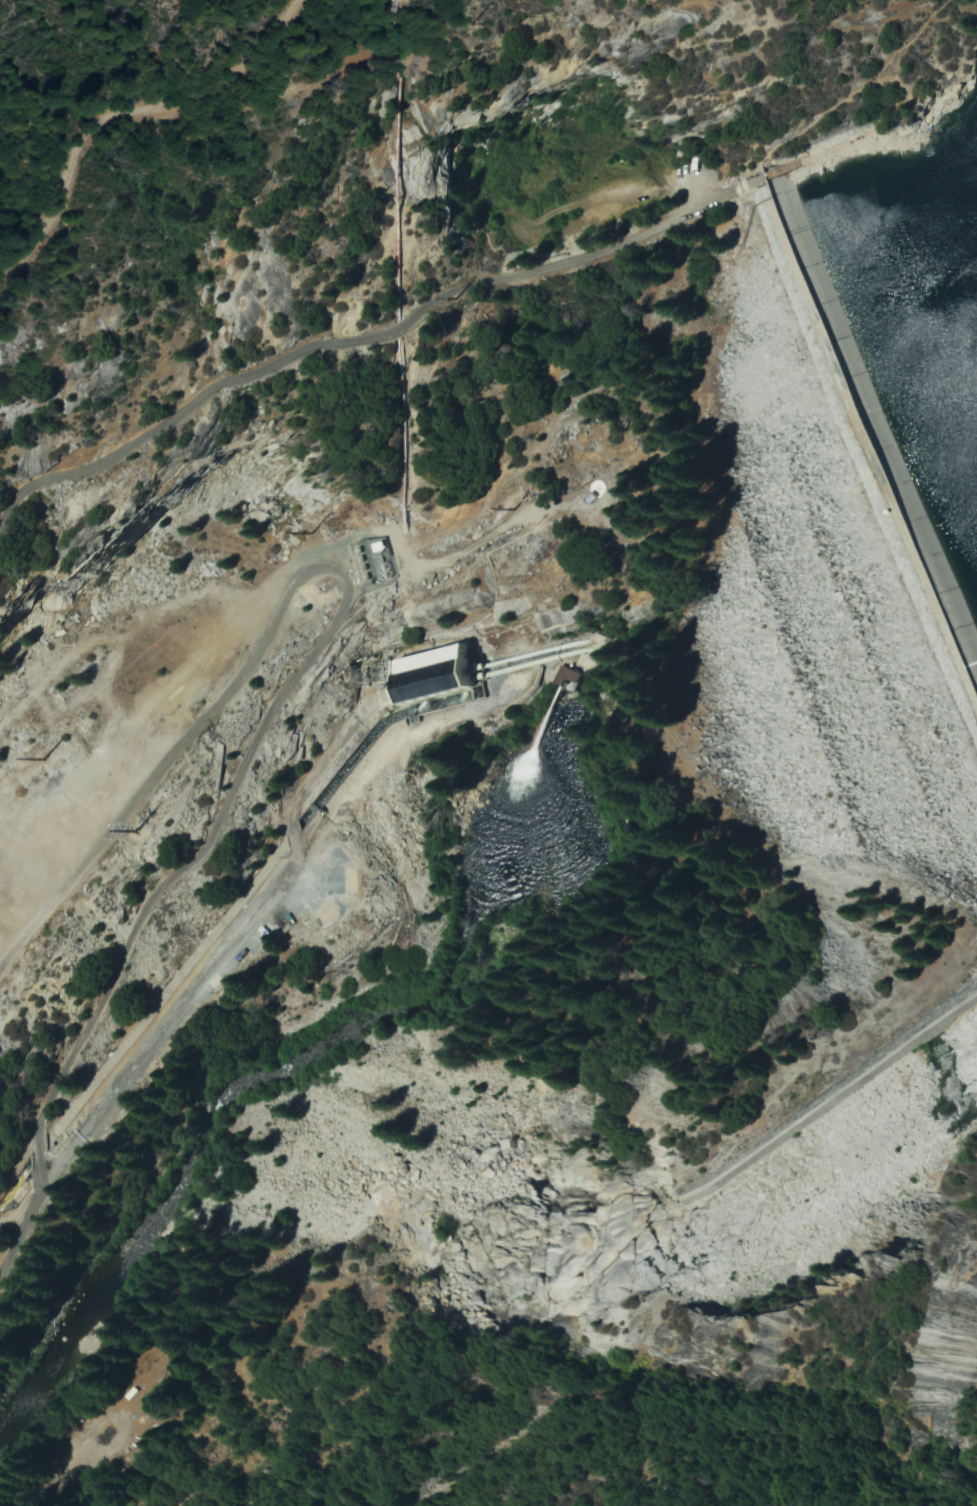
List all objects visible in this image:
power tower: (461, 22)
road: (861, 53)
road: (44, 261)
power tower: (449, 303)
road: (362, 322)
power tower: (506, 508)
power substation: (364, 559)
dam: (805, 610)
building: (429, 672)
road: (304, 681)
power tower: (183, 749)
power tower: (693, 754)
power tower: (936, 903)
road: (221, 990)
river: (323, 1038)
road: (22, 1223)

